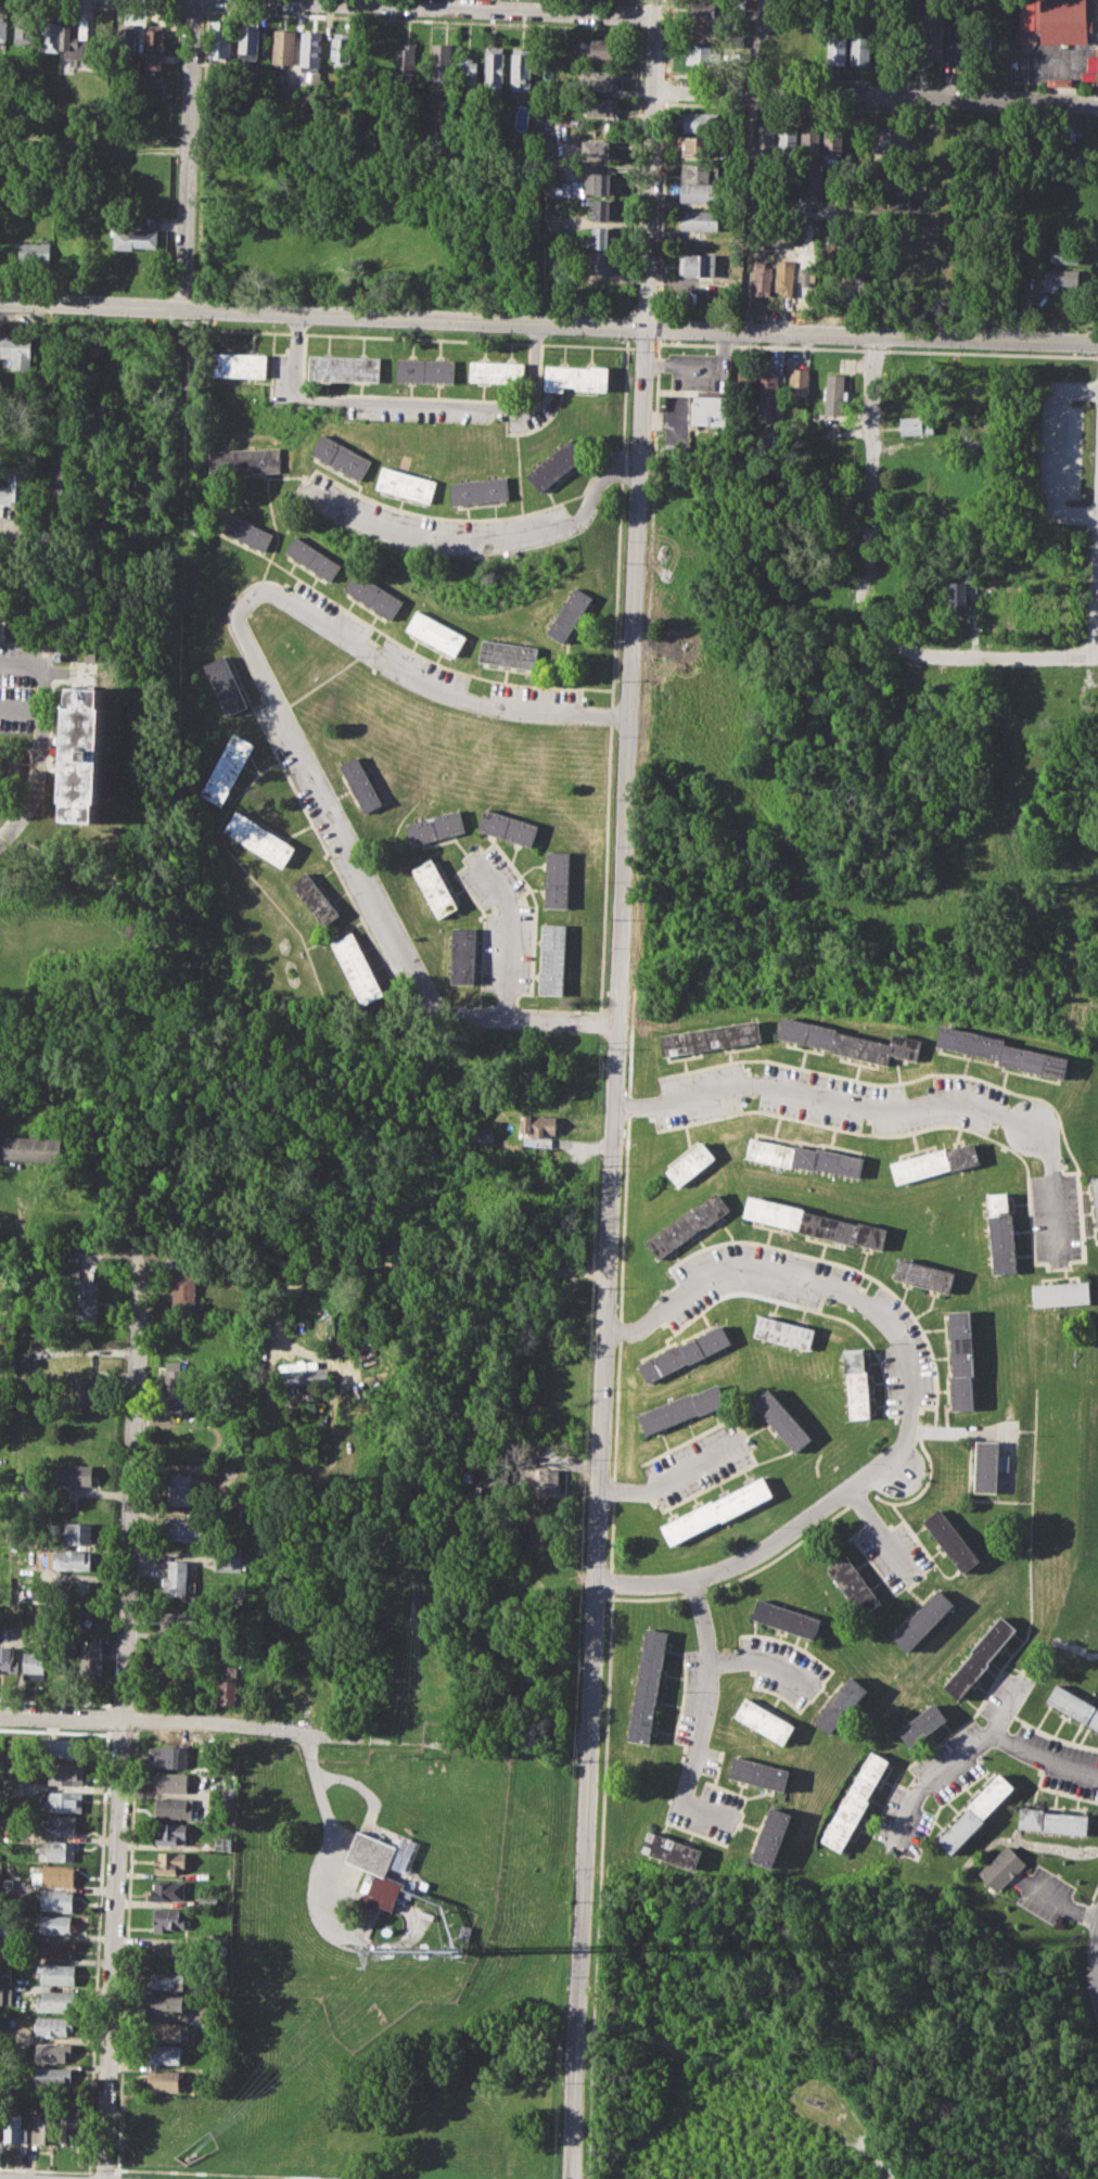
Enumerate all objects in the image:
road: (516, 4)
building: (740, 4)
building: (705, 10)
building: (1056, 16)
building: (2, 28)
building: (25, 28)
building: (705, 31)
building: (49, 34)
building: (219, 39)
building: (75, 40)
building: (126, 40)
building: (250, 40)
building: (932, 44)
building: (283, 47)
road: (756, 47)
building: (341, 48)
building: (604, 48)
building: (99, 49)
building: (837, 49)
building: (957, 49)
building: (154, 50)
building: (310, 50)
building: (860, 51)
building: (378, 52)
building: (703, 53)
parking lot: (1063, 58)
building: (406, 60)
building: (442, 61)
building: (494, 67)
building: (521, 68)
building: (467, 71)
building: (601, 79)
building: (155, 91)
road: (876, 97)
building: (601, 106)
building: (701, 120)
building: (1062, 132)
building: (765, 141)
building: (788, 141)
building: (833, 143)
building: (699, 145)
building: (881, 145)
building: (597, 150)
building: (812, 150)
road: (191, 154)
building: (699, 170)
building: (591, 184)
building: (232, 188)
road: (750, 190)
building: (699, 191)
building: (899, 201)
building: (603, 209)
building: (701, 218)
building: (135, 238)
building: (600, 238)
building: (35, 250)
building: (1065, 253)
building: (602, 262)
building: (698, 263)
building: (807, 276)
building: (786, 277)
building: (1059, 278)
building: (762, 280)
building: (855, 284)
road: (548, 323)
building: (16, 349)
building: (239, 365)
building: (345, 368)
building: (425, 369)
building: (497, 371)
building: (576, 377)
building: (800, 380)
building: (746, 384)
building: (768, 385)
building: (835, 393)
road: (414, 404)
building: (702, 406)
building: (917, 424)
road: (1055, 453)
building: (341, 456)
building: (245, 460)
building: (556, 463)
road: (179, 482)
building: (407, 483)
road: (870, 484)
building: (15, 485)
building: (65, 489)
building: (481, 489)
building: (243, 530)
road: (48, 538)
road: (485, 538)
building: (312, 557)
building: (961, 592)
building: (374, 594)
road: (1096, 610)
building: (570, 614)
road: (1097, 623)
building: (437, 632)
building: (509, 653)
road: (978, 655)
parking lot: (20, 681)
building: (222, 685)
road: (277, 703)
road: (21, 709)
road: (41, 721)
road: (31, 749)
building: (82, 752)
building: (226, 768)
building: (359, 783)
park: (864, 825)
road: (14, 827)
building: (434, 827)
building: (507, 827)
building: (257, 838)
building: (556, 878)
building: (433, 888)
building: (314, 899)
road: (508, 931)
building: (462, 956)
building: (552, 958)
building: (356, 968)
building: (711, 1037)
building: (848, 1041)
road: (630, 1042)
building: (1001, 1050)
road: (614, 1088)
road: (628, 1106)
road: (892, 1107)
building: (535, 1124)
building: (481, 1137)
building: (536, 1142)
building: (31, 1148)
building: (804, 1157)
building: (934, 1161)
building: (690, 1163)
building: (1095, 1199)
road: (623, 1218)
building: (815, 1222)
building: (688, 1223)
building: (1000, 1234)
building: (73, 1271)
building: (921, 1274)
road: (788, 1277)
building: (183, 1290)
building: (1060, 1294)
building: (85, 1298)
road: (618, 1329)
building: (783, 1333)
building: (684, 1353)
building: (960, 1359)
building: (305, 1377)
building: (177, 1379)
building: (856, 1382)
building: (85, 1388)
building: (681, 1409)
building: (780, 1418)
road: (613, 1455)
building: (985, 1465)
building: (75, 1474)
road: (672, 1477)
building: (548, 1482)
building: (179, 1489)
building: (716, 1511)
building: (183, 1529)
road: (880, 1532)
building: (78, 1533)
road: (777, 1537)
building: (952, 1540)
building: (62, 1559)
building: (226, 1560)
building: (175, 1578)
road: (609, 1581)
building: (854, 1584)
building: (784, 1618)
building: (922, 1619)
building: (178, 1621)
building: (979, 1656)
building: (91, 1657)
building: (65, 1658)
building: (7, 1659)
building: (33, 1665)
road: (754, 1666)
building: (646, 1685)
building: (229, 1692)
building: (841, 1705)
building: (1073, 1705)
road: (698, 1716)
road: (120, 1720)
road: (162, 1720)
building: (764, 1721)
building: (920, 1723)
building: (64, 1747)
road: (1043, 1756)
building: (168, 1757)
road: (954, 1760)
building: (757, 1772)
building: (65, 1774)
building: (170, 1782)
building: (7, 1784)
road: (359, 1784)
building: (64, 1801)
building: (853, 1801)
building: (173, 1808)
building: (975, 1812)
building: (1051, 1820)
building: (62, 1824)
building: (170, 1833)
building: (769, 1836)
building: (222, 1843)
building: (669, 1849)
building: (60, 1851)
building: (168, 1862)
building: (1001, 1868)
building: (56, 1875)
building: (373, 1875)
road: (599, 1886)
road: (314, 1887)
building: (167, 1889)
building: (55, 1900)
building: (207, 1901)
building: (167, 1919)
building: (54, 1923)
building: (54, 1948)
building: (5, 1952)
building: (167, 1952)
building: (56, 1973)
building: (4, 1977)
building: (165, 1980)
building: (5, 1997)
building: (56, 2001)
building: (165, 2003)
building: (53, 2026)
building: (165, 2030)
building: (3, 2035)
building: (53, 2050)
building: (165, 2055)
building: (51, 2076)
building: (164, 2080)
building: (13, 2126)
building: (69, 2128)
building: (44, 2129)
road: (46, 2169)
road: (101, 2170)
road: (243, 2172)

